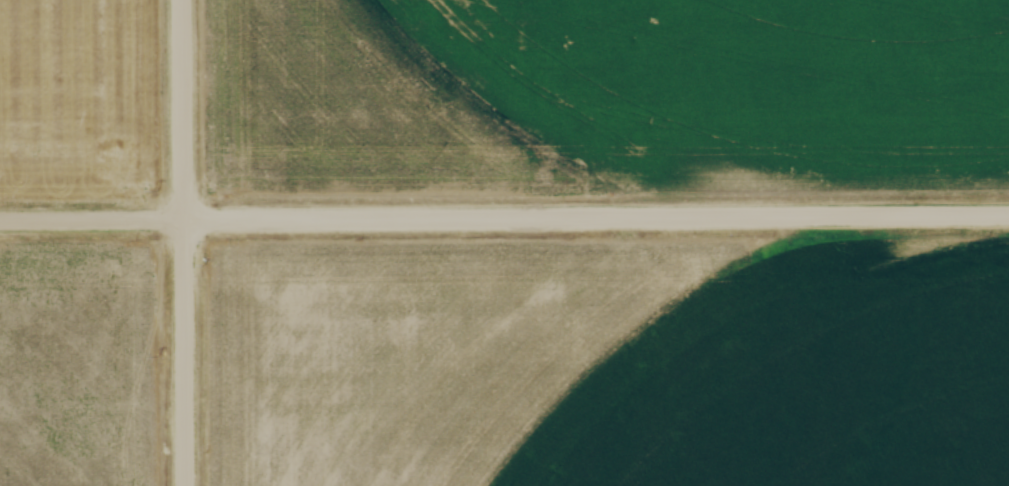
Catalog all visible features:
road: (182, 109)
road: (596, 215)
road: (92, 218)
road: (185, 351)

